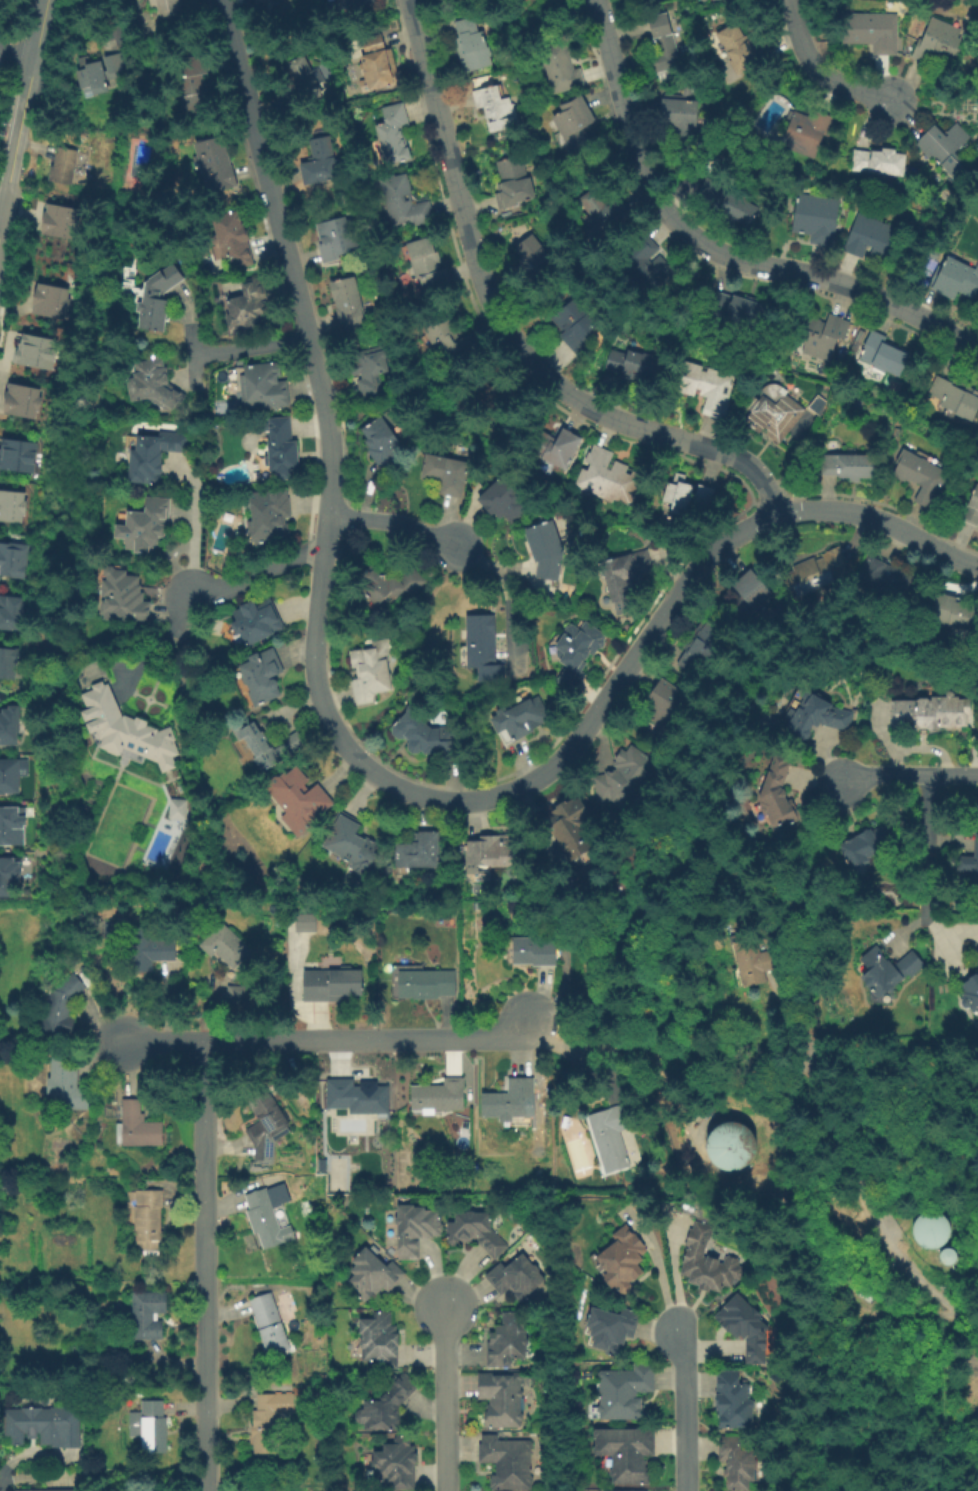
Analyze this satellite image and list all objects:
building: (259, 1)
building: (270, 1)
building: (655, 2)
building: (347, 4)
building: (168, 8)
road: (37, 31)
building: (871, 31)
building: (472, 43)
building: (938, 43)
building: (662, 46)
building: (741, 49)
road: (14, 55)
road: (237, 63)
building: (375, 65)
building: (561, 70)
road: (820, 70)
building: (99, 76)
building: (303, 86)
building: (194, 87)
building: (494, 109)
building: (680, 118)
building: (574, 123)
building: (807, 132)
building: (393, 134)
road: (16, 135)
building: (947, 149)
park: (137, 160)
building: (879, 162)
building: (320, 163)
building: (67, 165)
building: (216, 166)
building: (513, 186)
building: (727, 201)
building: (403, 204)
road: (0, 206)
road: (0, 209)
building: (605, 210)
building: (817, 218)
building: (57, 221)
building: (873, 238)
building: (341, 241)
building: (232, 247)
road: (713, 249)
building: (535, 262)
building: (428, 264)
building: (646, 266)
building: (955, 278)
building: (160, 299)
building: (49, 300)
building: (346, 303)
building: (247, 306)
building: (738, 309)
building: (575, 326)
road: (503, 328)
road: (306, 335)
building: (822, 335)
building: (450, 342)
road: (250, 347)
building: (33, 351)
building: (884, 354)
building: (634, 366)
building: (370, 371)
building: (155, 384)
building: (261, 385)
building: (707, 387)
building: (955, 397)
building: (20, 400)
building: (773, 412)
building: (384, 441)
building: (279, 447)
building: (555, 447)
building: (17, 455)
building: (154, 457)
building: (848, 466)
building: (446, 473)
building: (609, 477)
building: (922, 477)
building: (678, 495)
building: (704, 496)
building: (504, 501)
building: (11, 505)
building: (972, 509)
building: (266, 518)
road: (399, 519)
building: (146, 525)
road: (185, 543)
building: (546, 549)
building: (14, 559)
road: (255, 573)
building: (816, 573)
building: (626, 575)
building: (883, 580)
building: (390, 584)
building: (749, 596)
building: (124, 598)
building: (954, 613)
building: (13, 615)
building: (257, 622)
road: (153, 646)
building: (701, 647)
building: (483, 648)
building: (576, 655)
building: (10, 665)
building: (370, 673)
building: (261, 678)
building: (664, 706)
building: (932, 712)
building: (814, 714)
road: (591, 719)
building: (519, 721)
building: (8, 724)
building: (127, 731)
building: (425, 736)
building: (267, 746)
building: (11, 773)
road: (915, 775)
building: (622, 778)
building: (776, 795)
building: (297, 800)
building: (180, 808)
building: (11, 826)
building: (569, 829)
road: (929, 840)
building: (868, 845)
building: (353, 847)
building: (418, 851)
building: (492, 853)
building: (970, 864)
building: (11, 877)
building: (476, 907)
building: (303, 922)
building: (226, 945)
building: (150, 948)
building: (533, 952)
building: (976, 953)
building: (752, 962)
road: (808, 967)
building: (889, 970)
building: (427, 984)
building: (332, 986)
building: (970, 993)
building: (239, 995)
building: (62, 1008)
road: (326, 1037)
building: (66, 1084)
building: (437, 1096)
building: (357, 1097)
building: (509, 1100)
building: (267, 1126)
building: (139, 1127)
building: (611, 1136)
building: (732, 1147)
water tower: (733, 1147)
road: (863, 1196)
building: (269, 1216)
building: (147, 1219)
building: (415, 1229)
building: (932, 1231)
building: (475, 1232)
water tower: (932, 1232)
building: (951, 1258)
water tower: (951, 1259)
building: (622, 1260)
building: (706, 1262)
road: (203, 1264)
road: (657, 1271)
building: (373, 1275)
building: (515, 1278)
building: (270, 1288)
building: (147, 1317)
building: (269, 1324)
building: (744, 1327)
building: (610, 1328)
building: (380, 1340)
building: (507, 1341)
building: (624, 1392)
road: (445, 1399)
building: (501, 1399)
building: (733, 1401)
building: (387, 1407)
road: (679, 1410)
building: (267, 1424)
building: (42, 1427)
building: (150, 1427)
building: (624, 1454)
building: (507, 1462)
building: (735, 1463)
building: (396, 1464)
building: (40, 1489)
building: (617, 1490)

